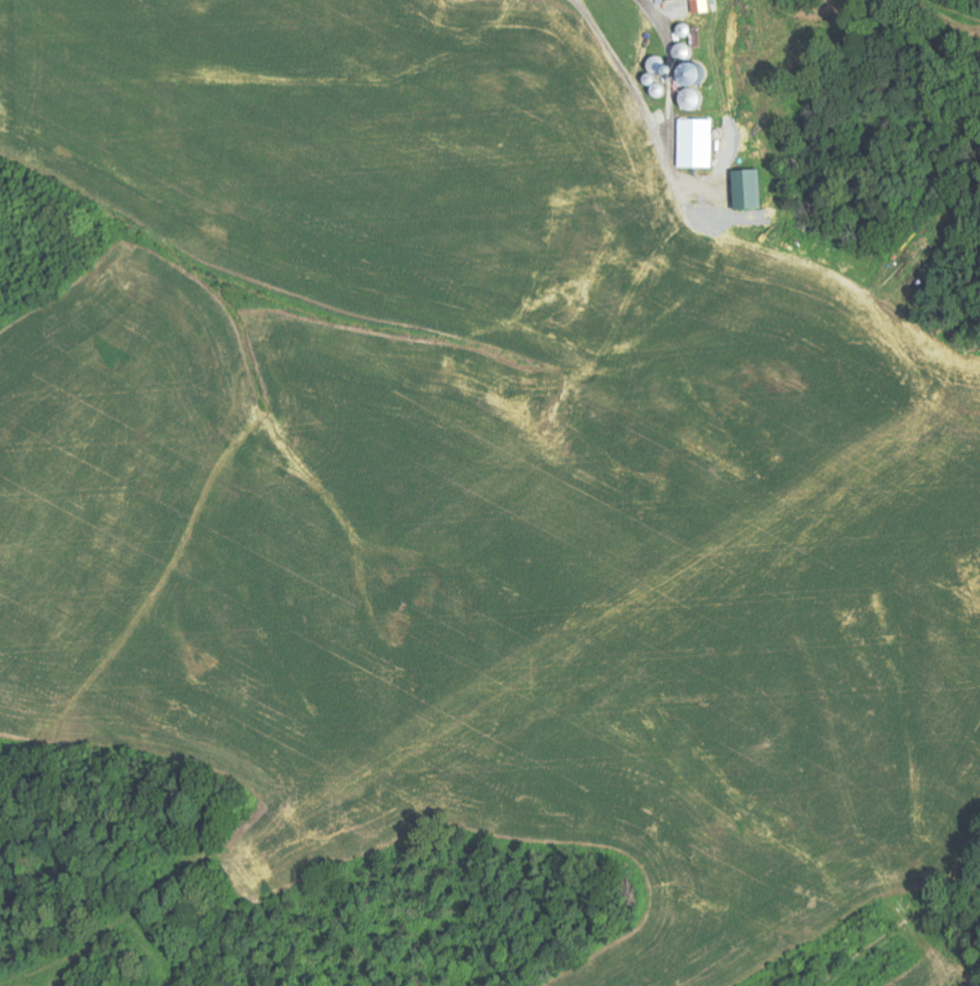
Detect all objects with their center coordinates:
building: (679, 0)
building: (706, 6)
building: (663, 66)
building: (702, 144)
building: (756, 190)

